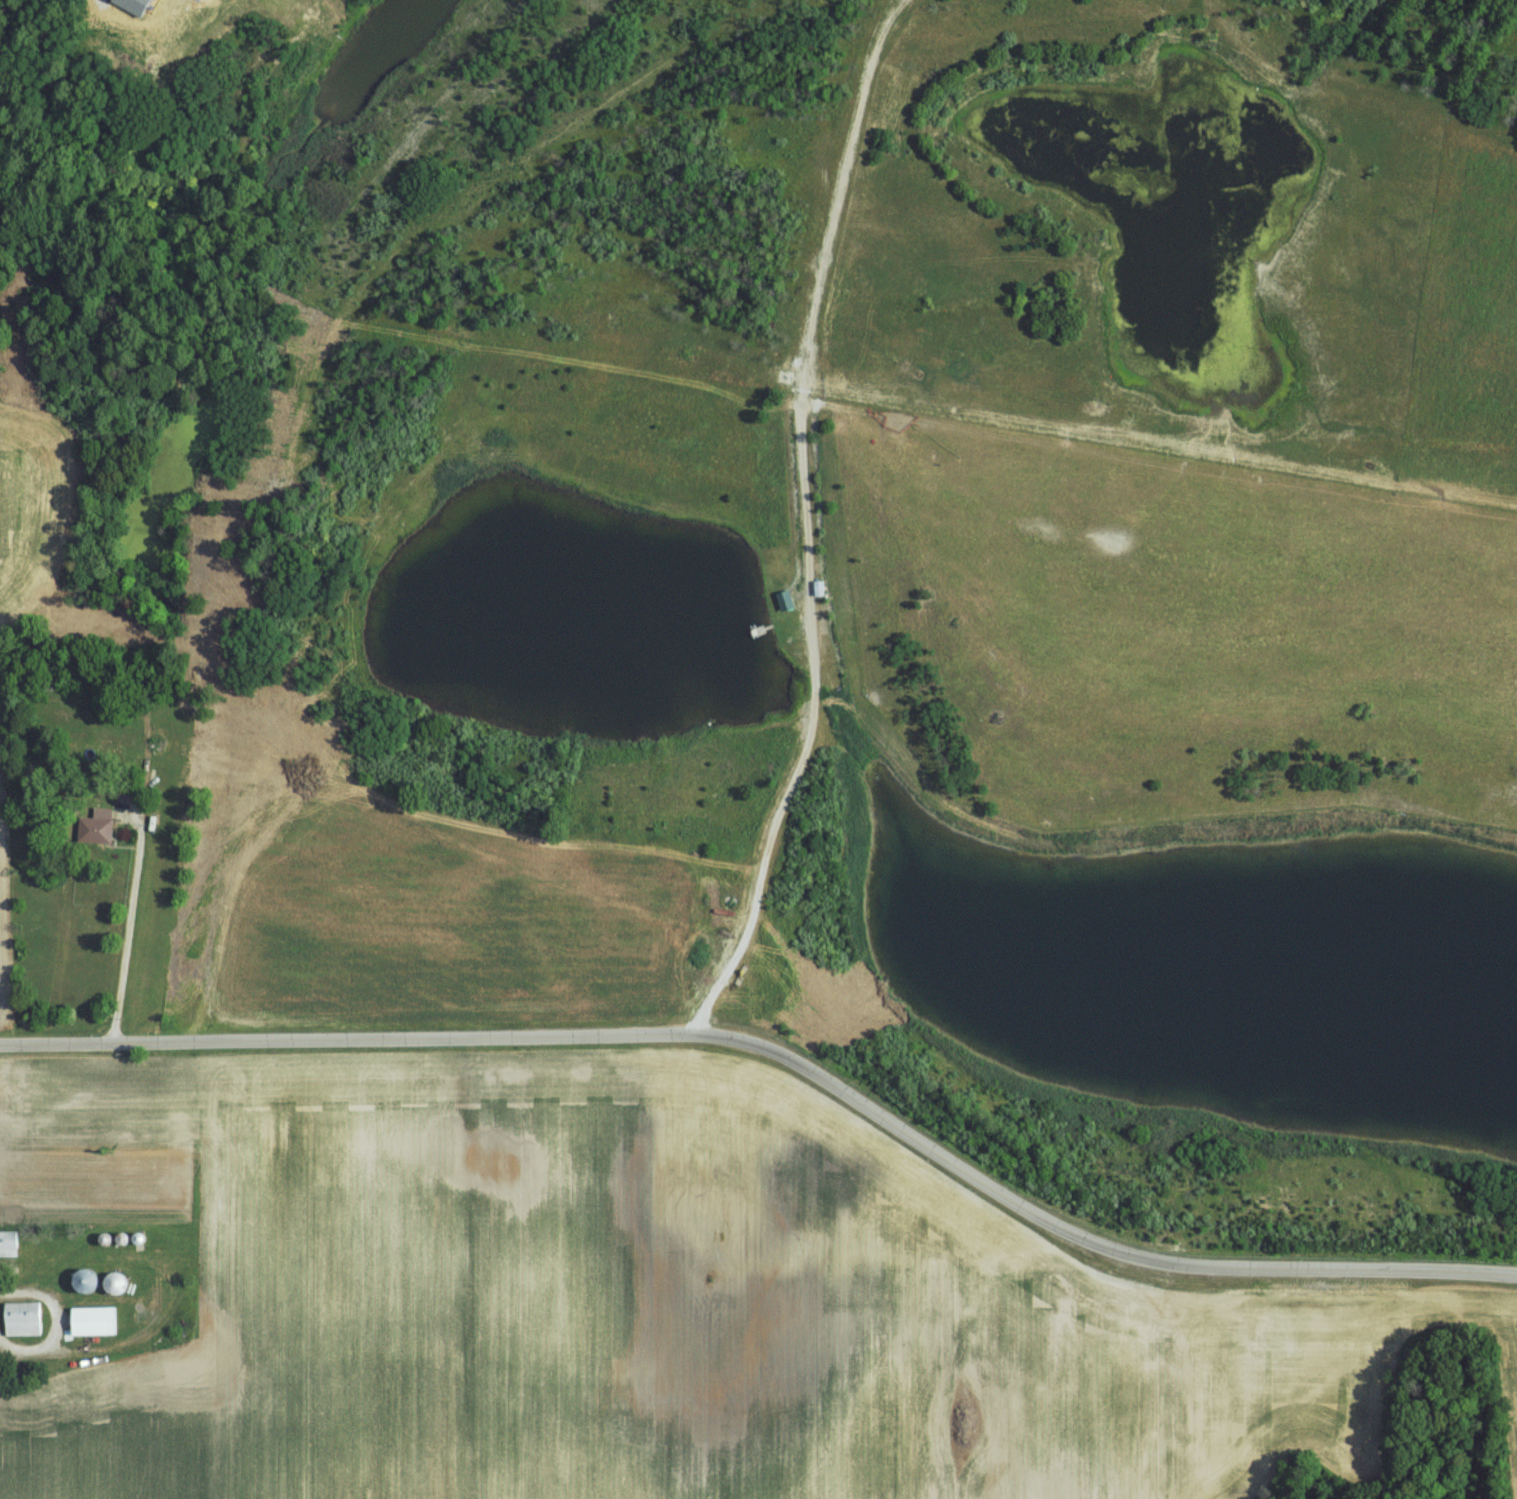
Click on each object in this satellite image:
building: (134, 5)
road: (807, 521)
building: (96, 827)
road: (129, 930)
road: (786, 1049)
building: (8, 1242)
building: (22, 1317)
building: (93, 1319)
road: (55, 1322)

